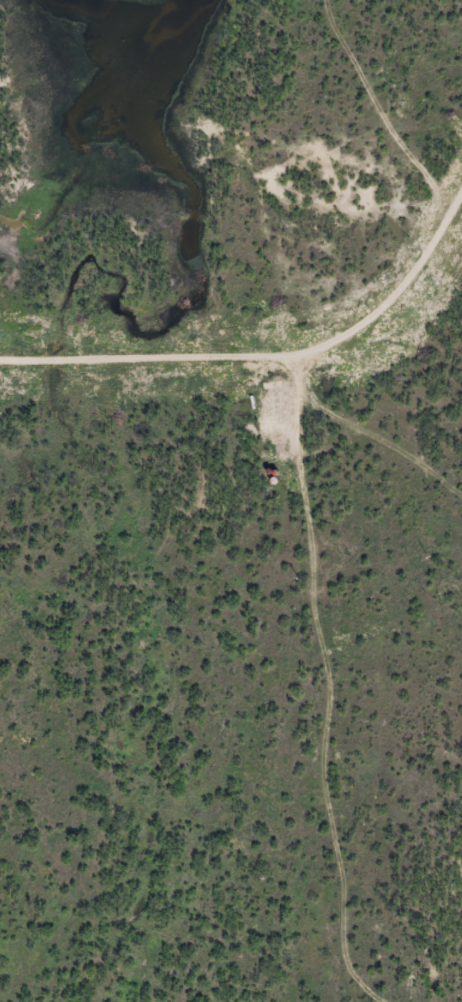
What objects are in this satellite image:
road: (398, 294)
road: (343, 582)
building: (401, 955)

